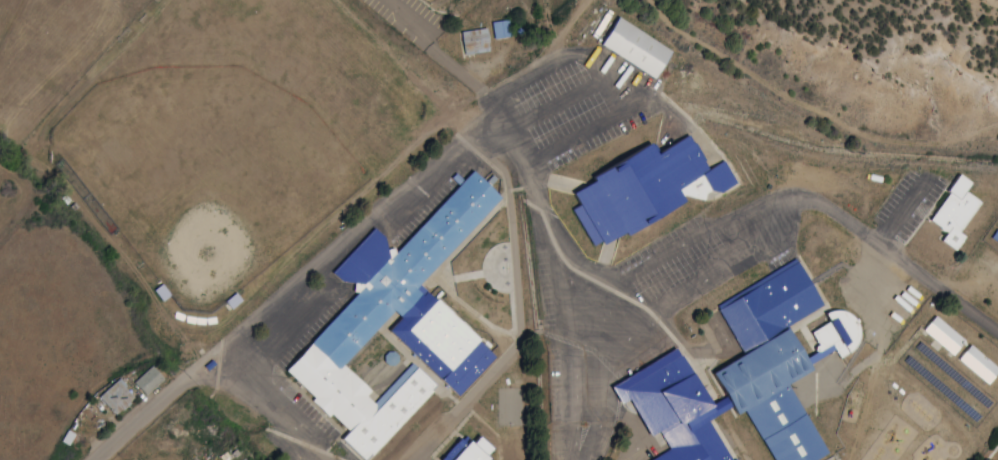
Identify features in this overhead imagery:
park: (563, 8)
road: (587, 27)
building: (499, 28)
building: (473, 40)
building: (635, 47)
road: (496, 102)
building: (641, 187)
building: (954, 211)
road: (538, 270)
building: (160, 291)
building: (395, 323)
building: (943, 334)
building: (778, 359)
building: (978, 363)
building: (147, 379)
building: (115, 395)
building: (674, 409)
building: (472, 449)

